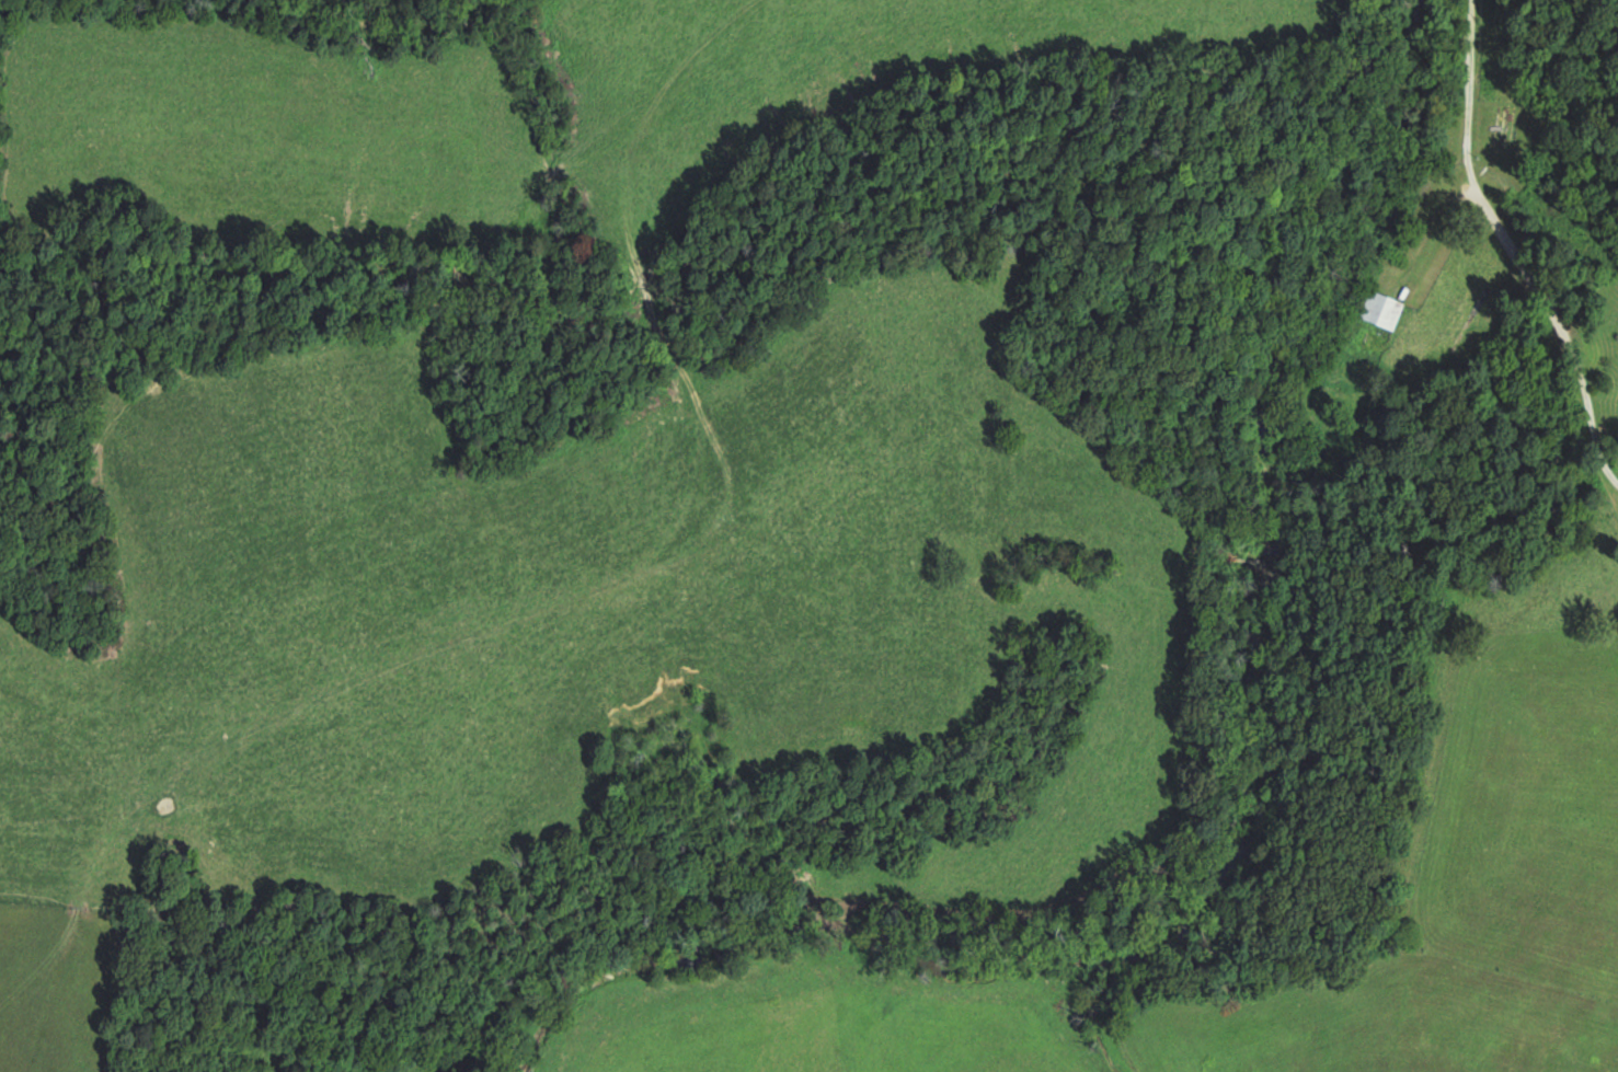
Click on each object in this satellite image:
road: (1519, 233)

